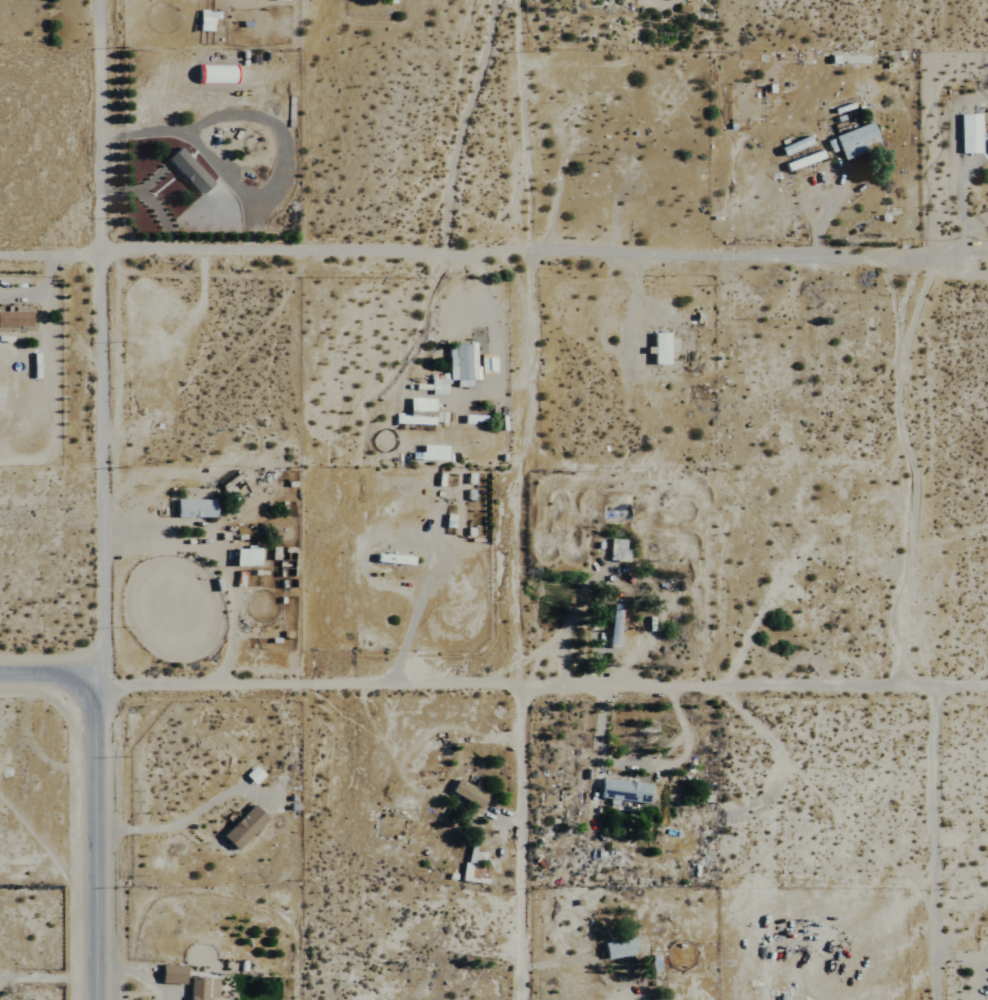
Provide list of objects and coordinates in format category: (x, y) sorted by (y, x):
road: (954, 164)
road: (824, 214)
road: (46, 257)
road: (539, 257)
road: (92, 337)
road: (496, 357)
road: (541, 674)
road: (47, 675)
road: (168, 823)
road: (933, 836)
road: (92, 837)
road: (513, 837)

